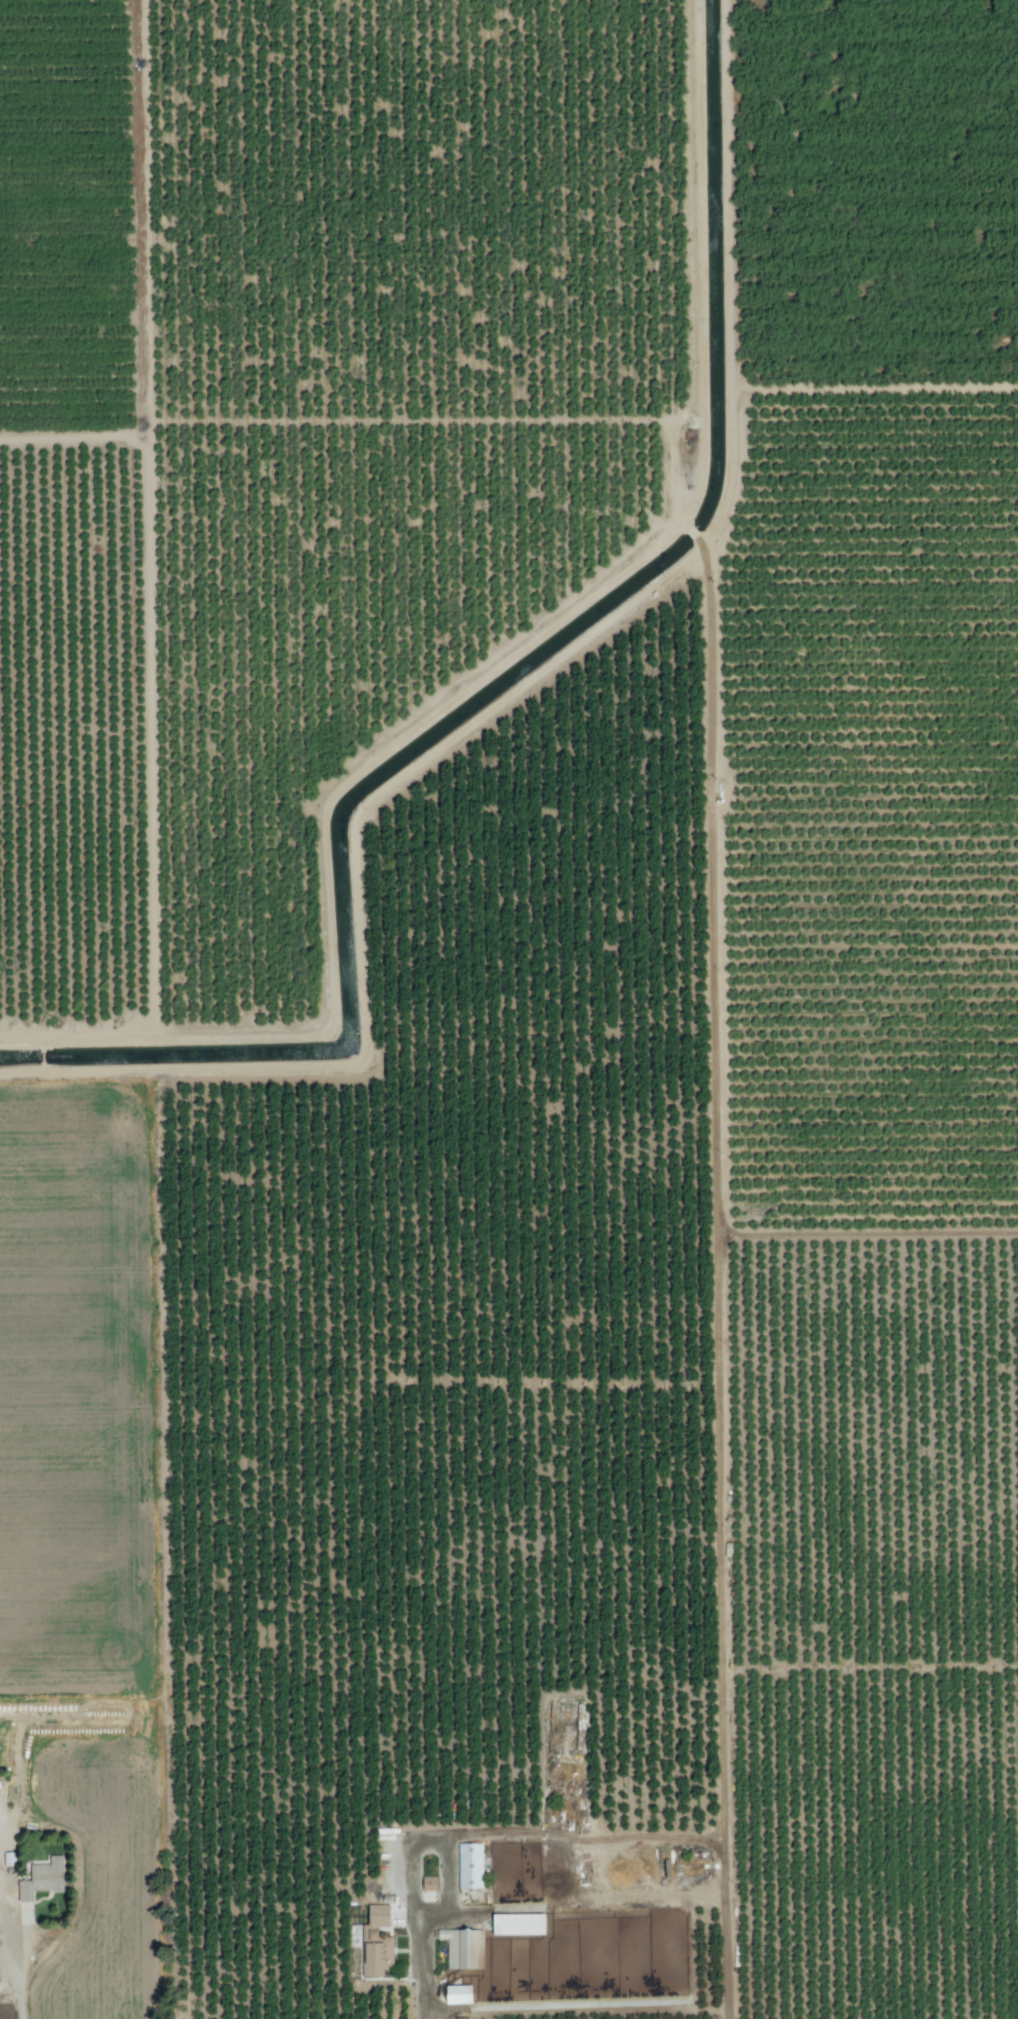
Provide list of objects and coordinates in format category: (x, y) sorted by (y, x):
building: (471, 1868)
building: (43, 1881)
building: (464, 1950)
building: (377, 1952)
road: (425, 1961)
road: (15, 1964)
road: (9, 1985)

